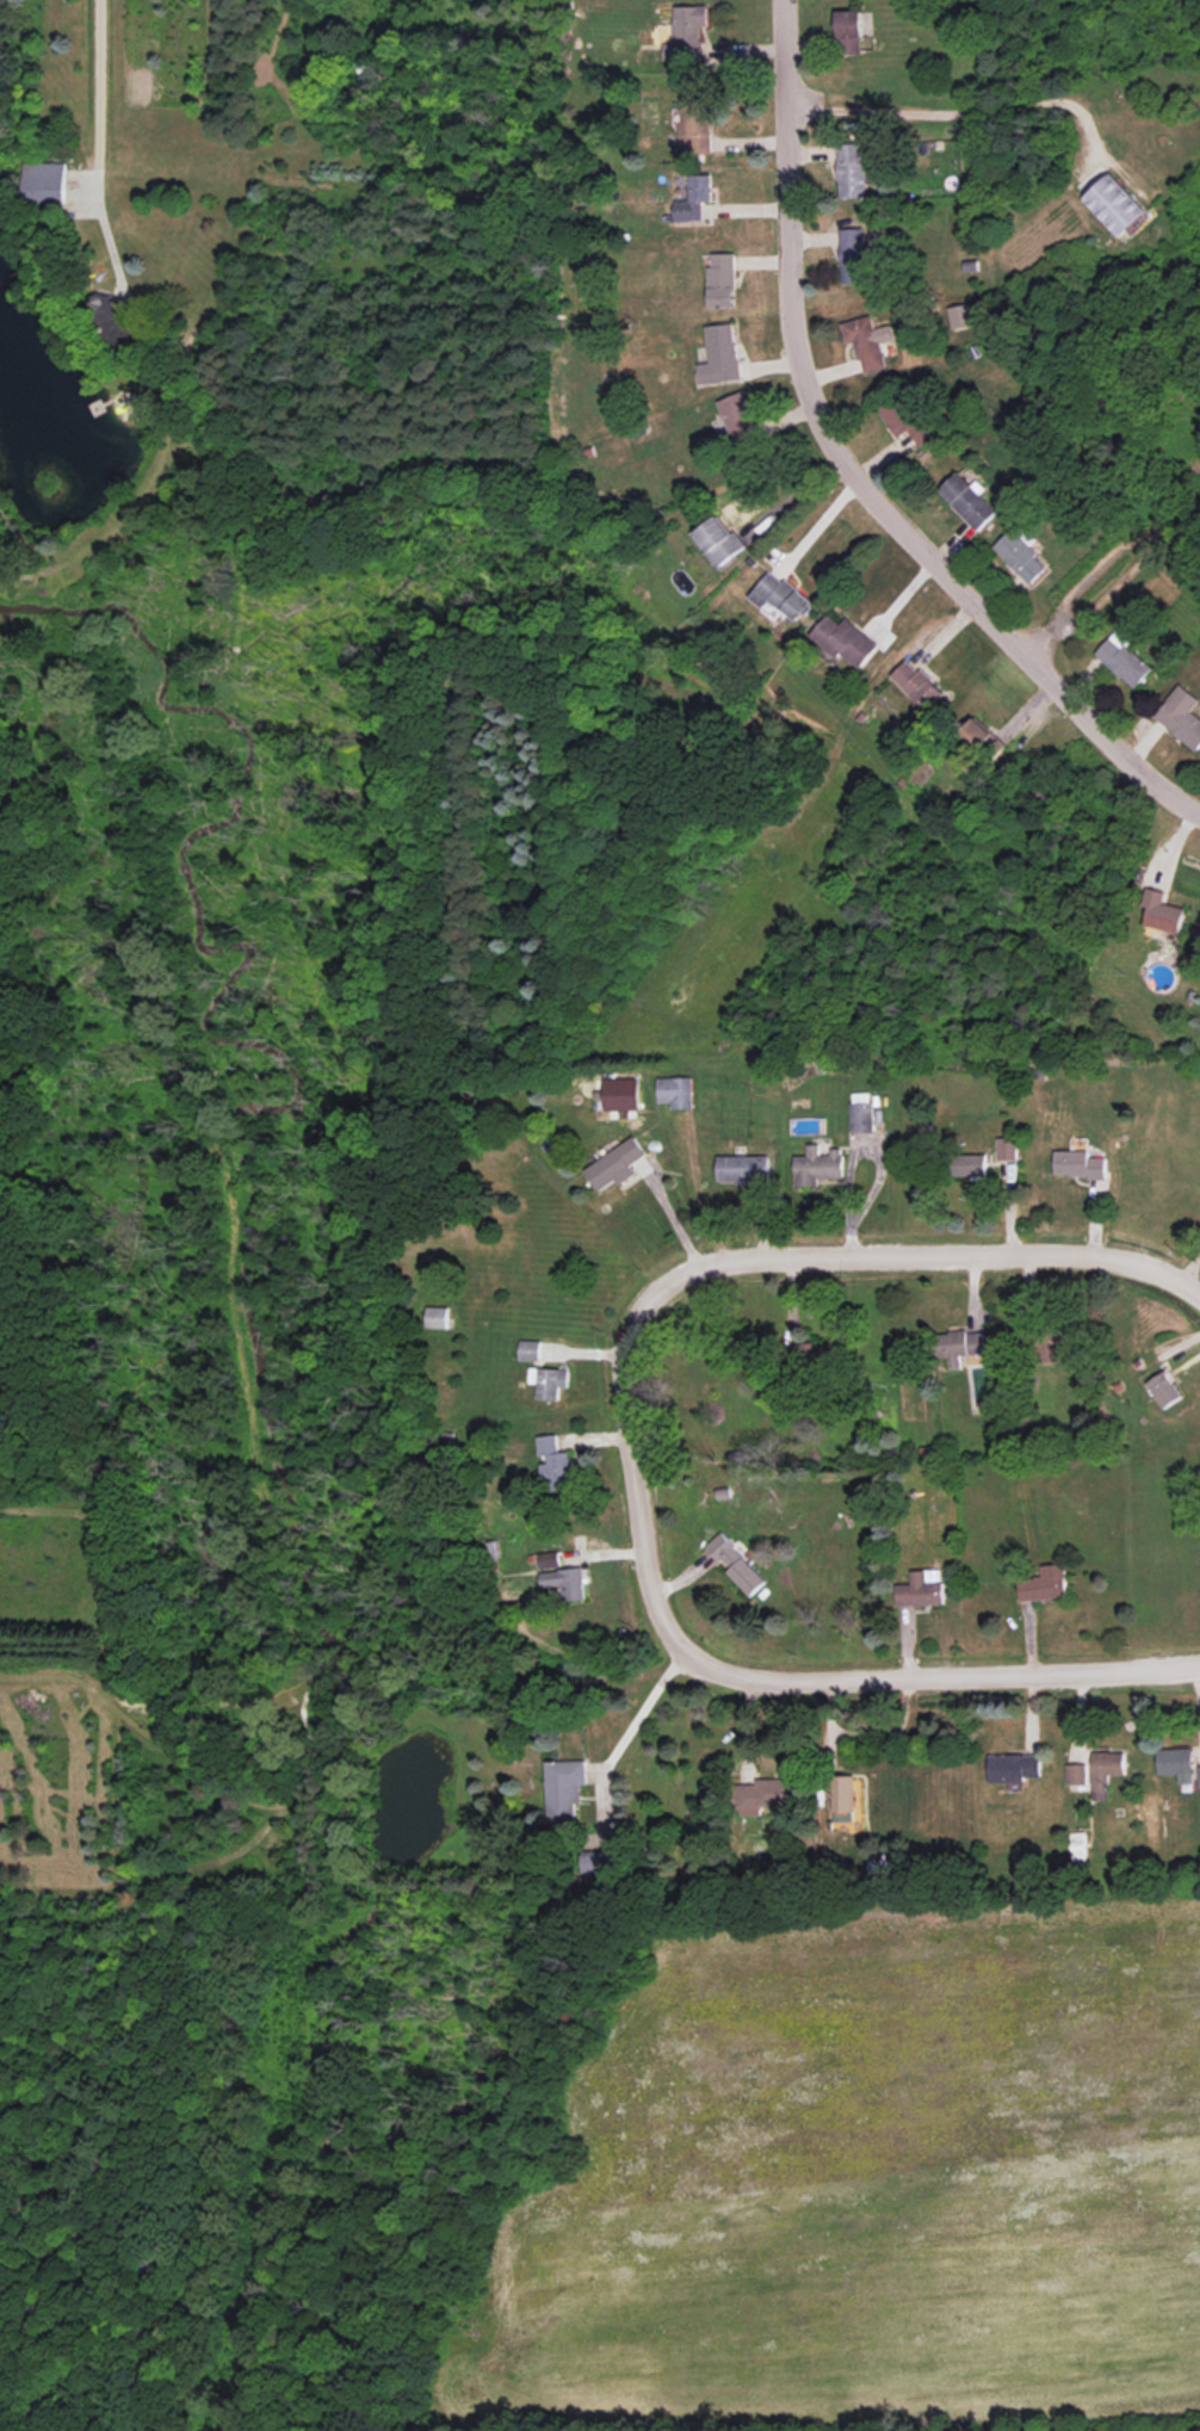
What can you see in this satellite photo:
building: (849, 31)
building: (688, 33)
road: (97, 94)
road: (959, 110)
building: (695, 124)
building: (854, 172)
building: (47, 183)
building: (695, 198)
building: (1115, 205)
building: (854, 256)
building: (722, 280)
building: (961, 316)
building: (115, 318)
building: (868, 341)
building: (720, 355)
building: (742, 419)
building: (904, 419)
road: (853, 471)
road: (790, 490)
building: (969, 501)
road: (816, 525)
building: (720, 539)
building: (1020, 555)
building: (784, 596)
building: (847, 641)
building: (1125, 660)
building: (920, 683)
building: (1181, 715)
building: (978, 734)
building: (1163, 911)
building: (676, 1091)
building: (623, 1094)
building: (862, 1112)
building: (1008, 1149)
building: (617, 1164)
building: (1080, 1164)
building: (971, 1165)
building: (818, 1167)
building: (744, 1168)
road: (927, 1260)
road: (1189, 1268)
building: (439, 1317)
building: (1052, 1344)
building: (960, 1346)
building: (530, 1349)
building: (550, 1381)
building: (1164, 1390)
building: (555, 1464)
road: (636, 1493)
building: (735, 1564)
building: (562, 1576)
building: (1045, 1584)
building: (921, 1589)
road: (960, 1677)
road: (643, 1711)
building: (1176, 1763)
building: (1014, 1767)
building: (1106, 1771)
building: (1076, 1774)
building: (1199, 1775)
building: (567, 1789)
building: (843, 1793)
building: (762, 1795)
building: (601, 1861)

